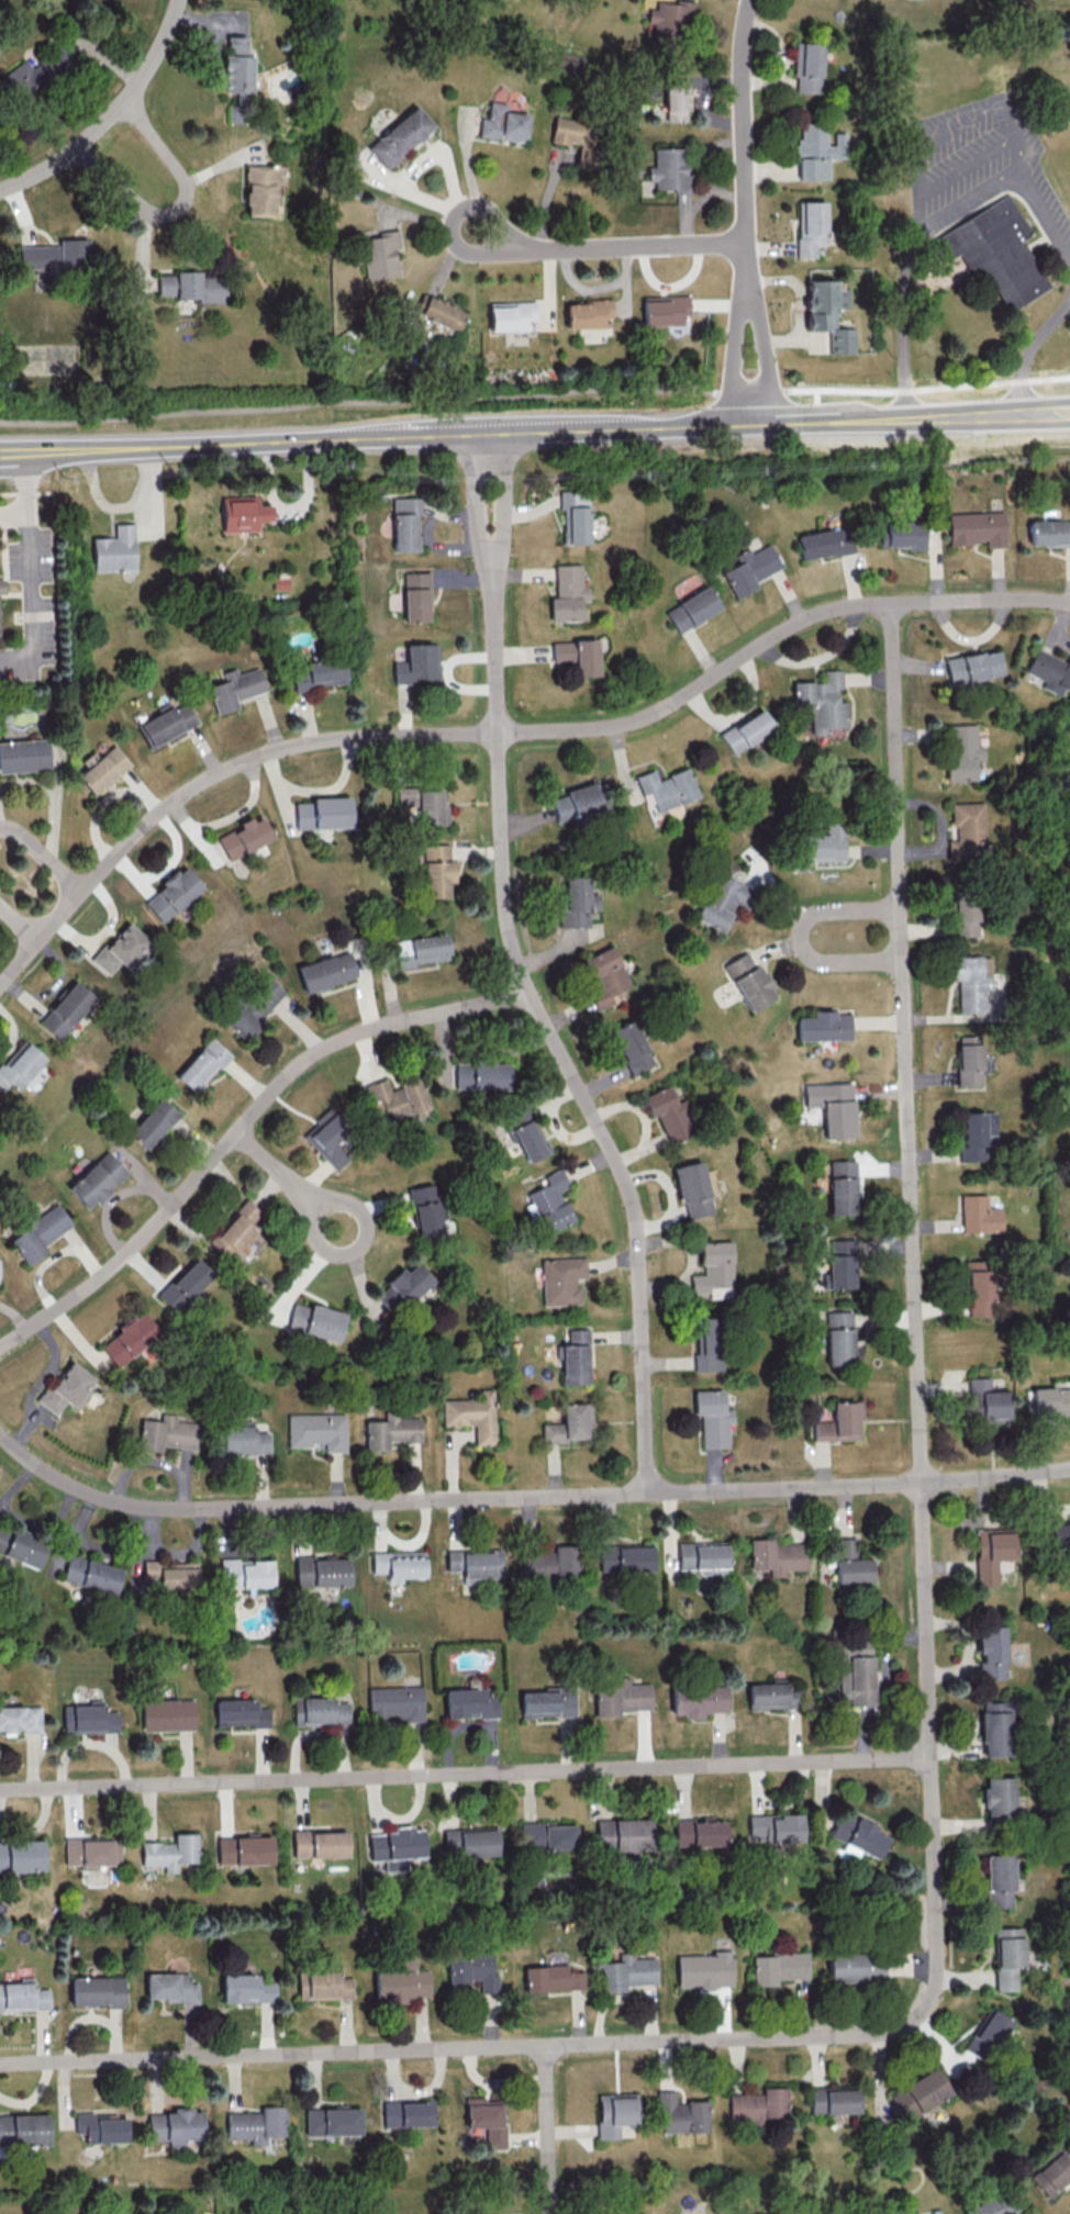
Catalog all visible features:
building: (669, 18)
building: (235, 66)
building: (807, 67)
building: (21, 78)
building: (675, 97)
road: (110, 114)
building: (502, 123)
building: (399, 136)
building: (575, 137)
road: (743, 137)
building: (817, 152)
parking lot: (981, 168)
building: (667, 169)
building: (258, 190)
road: (178, 208)
building: (811, 226)
road: (930, 227)
road: (605, 246)
building: (380, 254)
building: (55, 256)
building: (994, 256)
building: (190, 286)
building: (664, 310)
building: (443, 312)
building: (588, 313)
building: (828, 313)
building: (511, 315)
road: (733, 349)
road: (760, 349)
road: (1030, 354)
road: (927, 388)
road: (749, 390)
road: (815, 396)
road: (357, 400)
road: (1045, 402)
road: (1046, 418)
road: (742, 424)
road: (231, 443)
road: (26, 492)
road: (501, 499)
road: (471, 500)
road: (14, 511)
building: (241, 513)
building: (572, 516)
building: (405, 524)
building: (977, 528)
building: (1049, 533)
building: (905, 534)
building: (825, 543)
building: (114, 549)
road: (32, 569)
building: (749, 569)
building: (0, 590)
building: (567, 593)
building: (415, 596)
building: (691, 608)
building: (577, 655)
building: (417, 663)
building: (972, 667)
building: (1049, 671)
building: (319, 673)
building: (235, 687)
building: (820, 701)
building: (168, 724)
building: (746, 730)
road: (503, 733)
building: (962, 751)
building: (23, 754)
building: (102, 769)
building: (667, 787)
building: (577, 802)
building: (424, 803)
building: (323, 813)
building: (968, 831)
building: (244, 837)
building: (823, 845)
road: (41, 854)
building: (436, 870)
building: (171, 893)
building: (723, 901)
building: (577, 903)
building: (966, 917)
road: (19, 925)
road: (800, 938)
building: (120, 948)
building: (420, 950)
building: (325, 971)
building: (605, 975)
building: (749, 981)
building: (974, 981)
building: (254, 1007)
building: (65, 1009)
building: (824, 1026)
road: (549, 1033)
building: (631, 1047)
building: (970, 1060)
building: (19, 1064)
building: (202, 1064)
building: (480, 1074)
building: (397, 1098)
building: (833, 1107)
building: (669, 1114)
building: (153, 1122)
road: (241, 1126)
building: (525, 1132)
building: (976, 1133)
building: (328, 1140)
building: (96, 1179)
road: (287, 1179)
building: (841, 1187)
building: (692, 1188)
building: (549, 1203)
building: (424, 1211)
building: (979, 1215)
building: (234, 1230)
building: (38, 1232)
building: (840, 1263)
building: (714, 1270)
building: (561, 1279)
building: (183, 1284)
building: (403, 1286)
building: (980, 1287)
building: (314, 1320)
building: (838, 1338)
building: (127, 1339)
building: (707, 1344)
building: (576, 1357)
building: (67, 1388)
building: (985, 1400)
building: (1050, 1400)
building: (471, 1415)
building: (712, 1418)
building: (839, 1422)
building: (570, 1423)
building: (316, 1430)
building: (390, 1431)
building: (166, 1433)
building: (243, 1438)
road: (524, 1498)
building: (1059, 1534)
building: (21, 1546)
building: (991, 1553)
building: (625, 1556)
building: (776, 1556)
building: (703, 1557)
building: (849, 1562)
building: (475, 1563)
building: (549, 1563)
building: (399, 1564)
building: (321, 1572)
building: (247, 1573)
building: (91, 1574)
building: (170, 1574)
building: (990, 1652)
building: (857, 1680)
building: (773, 1695)
building: (621, 1697)
building: (698, 1700)
building: (395, 1702)
building: (469, 1702)
building: (547, 1702)
building: (319, 1711)
building: (239, 1712)
building: (166, 1714)
building: (88, 1718)
building: (20, 1719)
building: (993, 1729)
road: (930, 1773)
road: (465, 1774)
building: (997, 1797)
building: (776, 1826)
building: (699, 1832)
building: (623, 1834)
building: (546, 1835)
building: (858, 1835)
building: (471, 1842)
building: (319, 1843)
building: (395, 1845)
building: (244, 1849)
building: (91, 1852)
building: (169, 1852)
building: (21, 1856)
building: (997, 1881)
building: (1007, 1957)
building: (778, 1967)
building: (856, 1968)
building: (471, 1969)
building: (704, 1969)
building: (626, 1972)
building: (551, 1978)
building: (401, 1982)
building: (322, 1984)
building: (170, 1987)
building: (246, 1988)
building: (97, 1991)
building: (22, 1995)
building: (987, 2034)
building: (919, 2093)
building: (834, 2100)
building: (758, 2104)
building: (406, 2113)
building: (614, 2113)
building: (681, 2113)
building: (486, 2118)
building: (331, 2121)
building: (256, 2124)
building: (175, 2126)
building: (101, 2127)
building: (23, 2129)
road: (547, 2129)
building: (1052, 2173)
building: (993, 2205)
building: (772, 2213)
building: (912, 2213)

